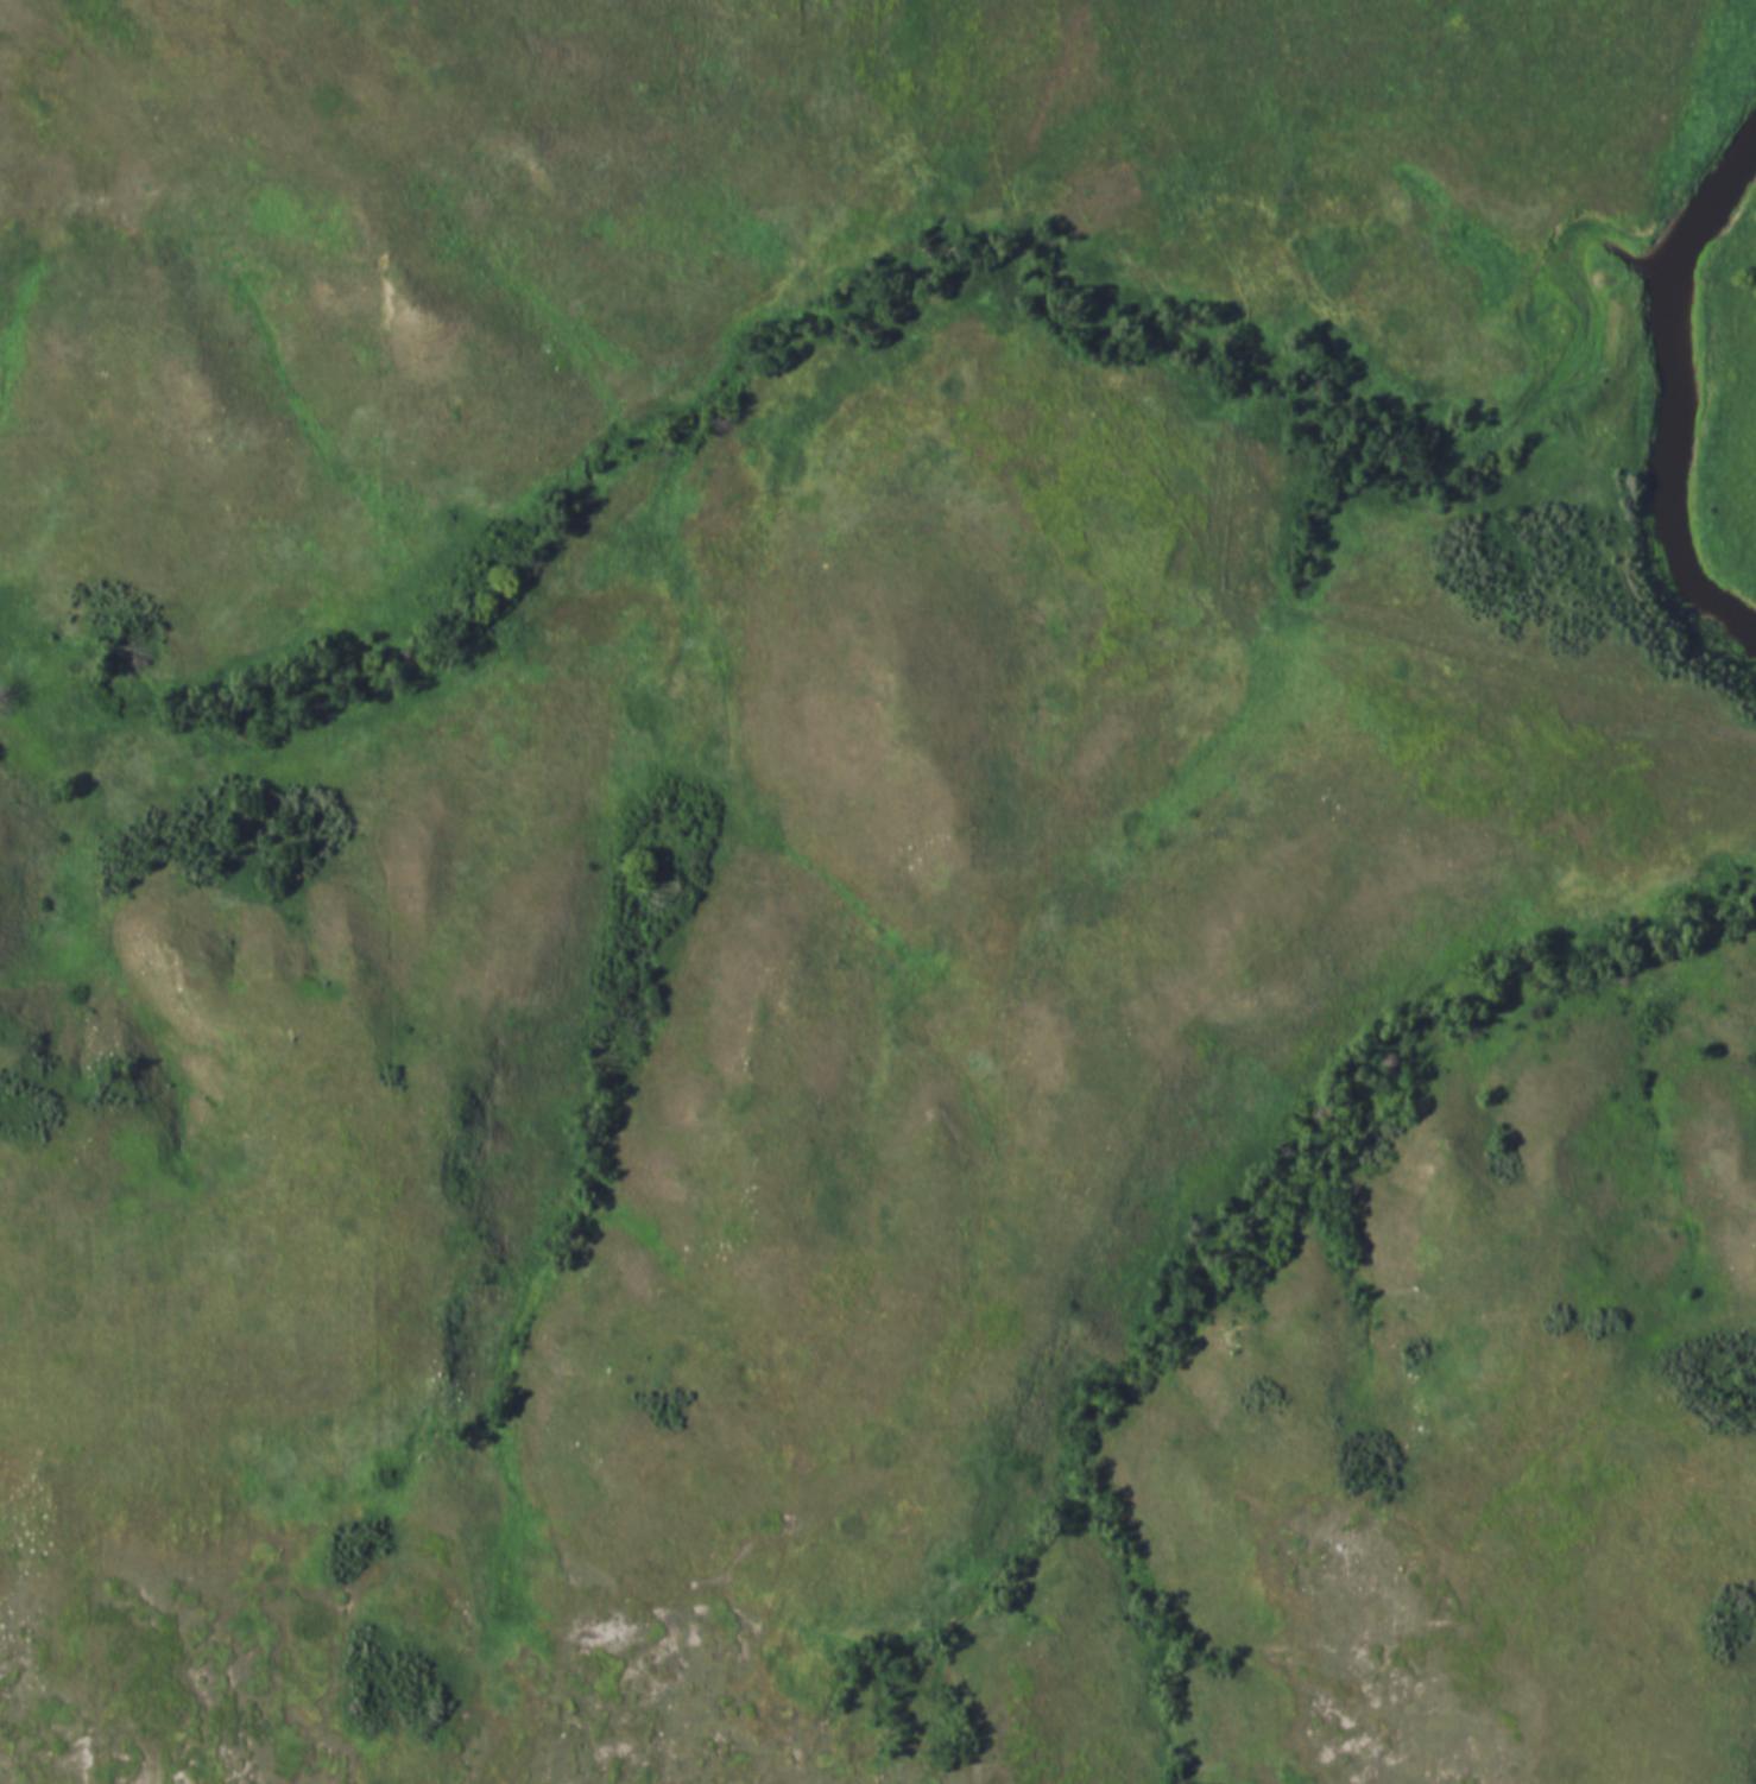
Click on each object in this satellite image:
river: (1674, 390)

